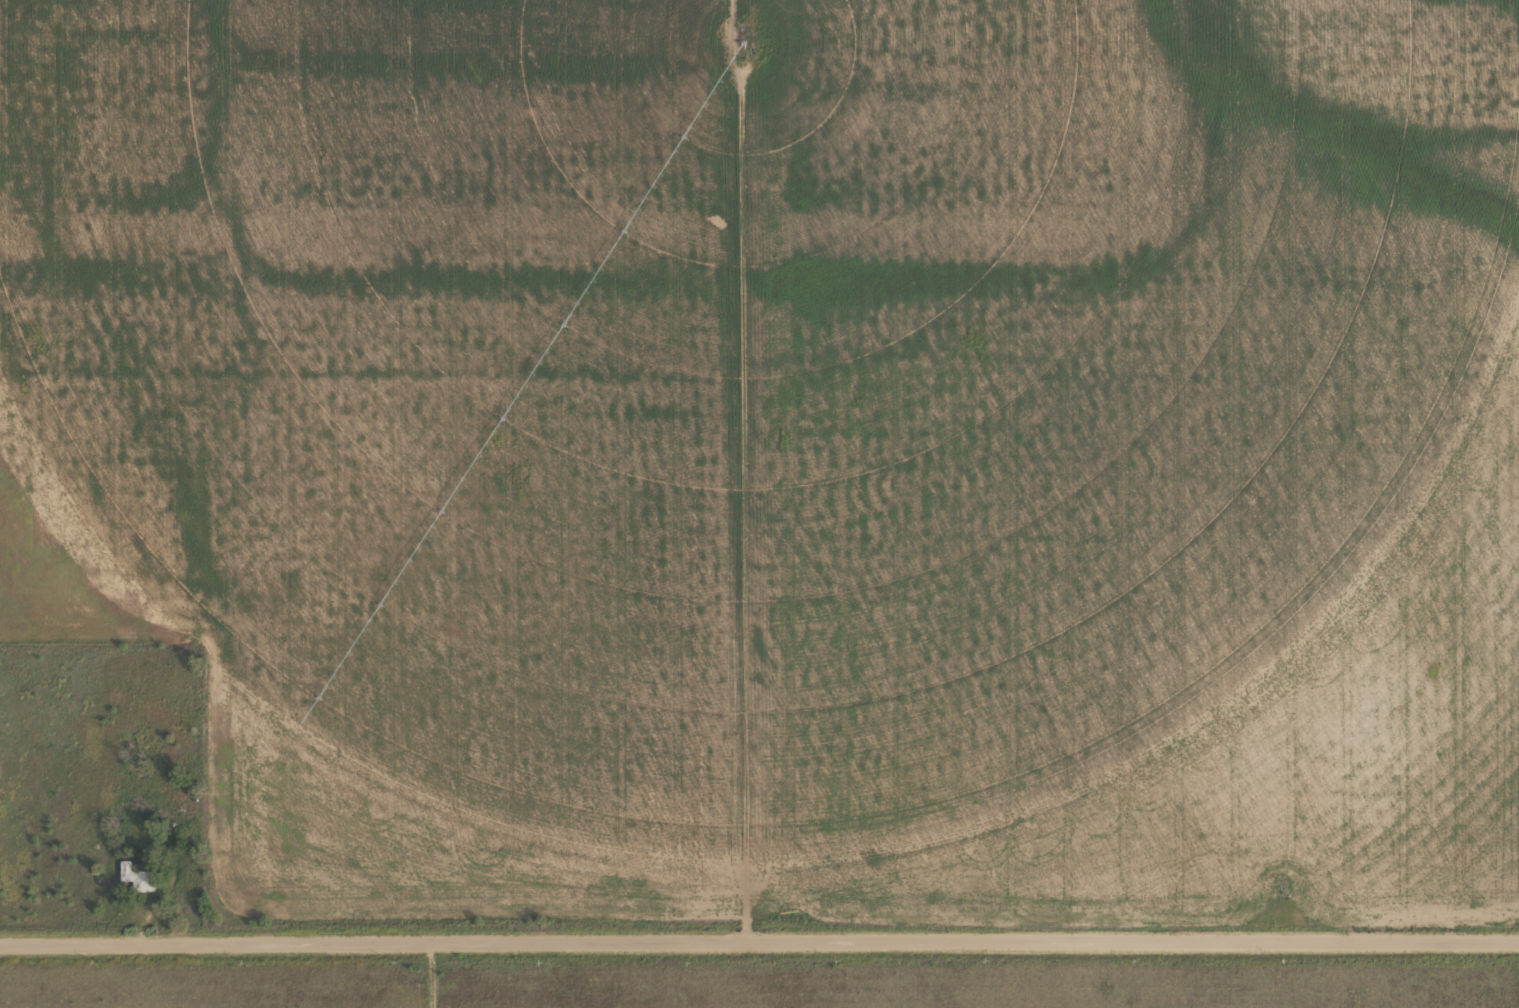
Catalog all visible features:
building: (139, 875)
road: (759, 939)

